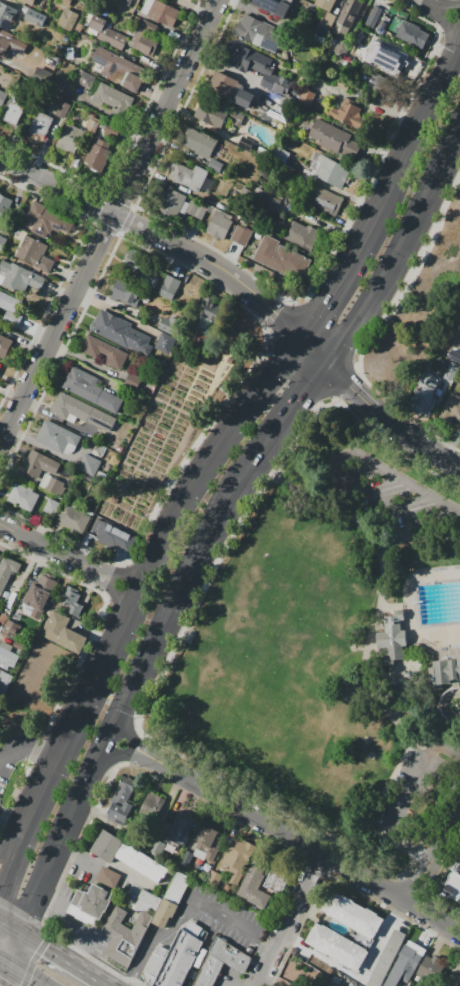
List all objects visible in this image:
building: (29, 2)
building: (66, 2)
building: (128, 2)
building: (324, 4)
building: (278, 7)
road: (439, 10)
building: (158, 11)
building: (6, 17)
building: (350, 17)
building: (373, 17)
building: (68, 19)
building: (327, 20)
building: (382, 24)
building: (33, 26)
building: (249, 29)
building: (322, 32)
building: (412, 35)
building: (115, 40)
building: (271, 44)
building: (147, 46)
building: (338, 48)
building: (4, 49)
building: (70, 53)
building: (364, 55)
road: (454, 58)
building: (396, 59)
building: (118, 68)
building: (255, 68)
building: (85, 78)
building: (379, 85)
building: (226, 86)
building: (2, 98)
building: (113, 98)
building: (306, 98)
road: (428, 98)
building: (64, 107)
building: (217, 114)
building: (12, 115)
building: (349, 115)
building: (266, 121)
building: (40, 124)
building: (91, 124)
building: (112, 130)
building: (327, 136)
building: (70, 140)
building: (197, 144)
building: (246, 144)
road: (43, 147)
building: (96, 157)
building: (215, 165)
building: (328, 172)
road: (34, 176)
building: (188, 177)
road: (65, 181)
road: (21, 184)
road: (42, 191)
building: (258, 192)
building: (174, 202)
building: (270, 202)
building: (325, 202)
building: (4, 206)
building: (191, 209)
road: (113, 217)
building: (46, 221)
building: (216, 223)
road: (109, 224)
building: (243, 234)
building: (303, 235)
road: (181, 238)
building: (2, 242)
road: (401, 250)
road: (183, 251)
road: (352, 252)
building: (34, 254)
road: (228, 259)
building: (282, 260)
building: (141, 265)
road: (183, 265)
building: (20, 277)
road: (228, 278)
road: (217, 282)
building: (169, 287)
building: (126, 292)
traffic signals: (324, 303)
building: (11, 307)
road: (274, 314)
building: (209, 316)
traffic signals: (276, 316)
building: (171, 325)
building: (121, 332)
building: (451, 335)
building: (165, 343)
building: (4, 345)
road: (313, 349)
building: (104, 351)
building: (450, 360)
building: (0, 363)
building: (0, 364)
building: (132, 381)
traffic signals: (347, 385)
road: (348, 386)
building: (91, 389)
traffic signals: (298, 397)
building: (422, 400)
building: (453, 406)
building: (80, 415)
road: (381, 416)
road: (280, 419)
building: (58, 439)
road: (425, 444)
road: (362, 456)
building: (40, 464)
building: (89, 464)
road: (197, 474)
building: (52, 485)
parking lot: (383, 488)
building: (23, 497)
road: (320, 501)
building: (51, 507)
road: (452, 510)
building: (73, 519)
road: (417, 522)
road: (419, 529)
building: (112, 535)
road: (67, 557)
building: (7, 570)
road: (173, 589)
building: (39, 596)
building: (71, 600)
road: (386, 605)
building: (0, 607)
building: (2, 620)
building: (11, 629)
building: (63, 632)
road: (90, 635)
building: (392, 638)
park: (336, 645)
building: (8, 656)
road: (104, 657)
building: (443, 673)
building: (5, 682)
road: (369, 682)
road: (106, 696)
road: (445, 706)
road: (419, 710)
road: (73, 723)
road: (445, 726)
road: (108, 734)
road: (434, 738)
road: (23, 748)
road: (424, 752)
road: (50, 773)
road: (80, 791)
parking lot: (410, 792)
road: (40, 796)
building: (122, 801)
road: (400, 802)
building: (151, 805)
road: (33, 814)
road: (98, 814)
road: (14, 818)
road: (68, 820)
road: (27, 826)
road: (64, 829)
building: (181, 831)
road: (284, 833)
road: (12, 841)
building: (207, 843)
road: (18, 852)
building: (128, 855)
road: (431, 858)
building: (238, 859)
road: (105, 863)
road: (47, 864)
building: (215, 876)
building: (108, 878)
building: (277, 879)
building: (255, 885)
building: (454, 885)
traffic signals: (4, 887)
road: (3, 890)
road: (14, 897)
building: (171, 900)
building: (147, 901)
road: (188, 903)
building: (90, 904)
road: (26, 911)
building: (352, 914)
road: (289, 921)
parking lot: (76, 923)
road: (10, 924)
road: (72, 924)
road: (29, 936)
building: (123, 936)
road: (381, 940)
road: (39, 944)
building: (336, 946)
road: (16, 947)
traffic signals: (46, 948)
road: (47, 949)
building: (406, 956)
building: (386, 958)
road: (63, 959)
road: (6, 961)
building: (174, 961)
building: (221, 962)
road: (30, 965)
building: (430, 967)
road: (88, 973)
road: (10, 975)
road: (27, 975)
road: (235, 977)
building: (458, 982)
road: (4, 983)
road: (107, 984)
road: (7, 985)
road: (44, 985)

